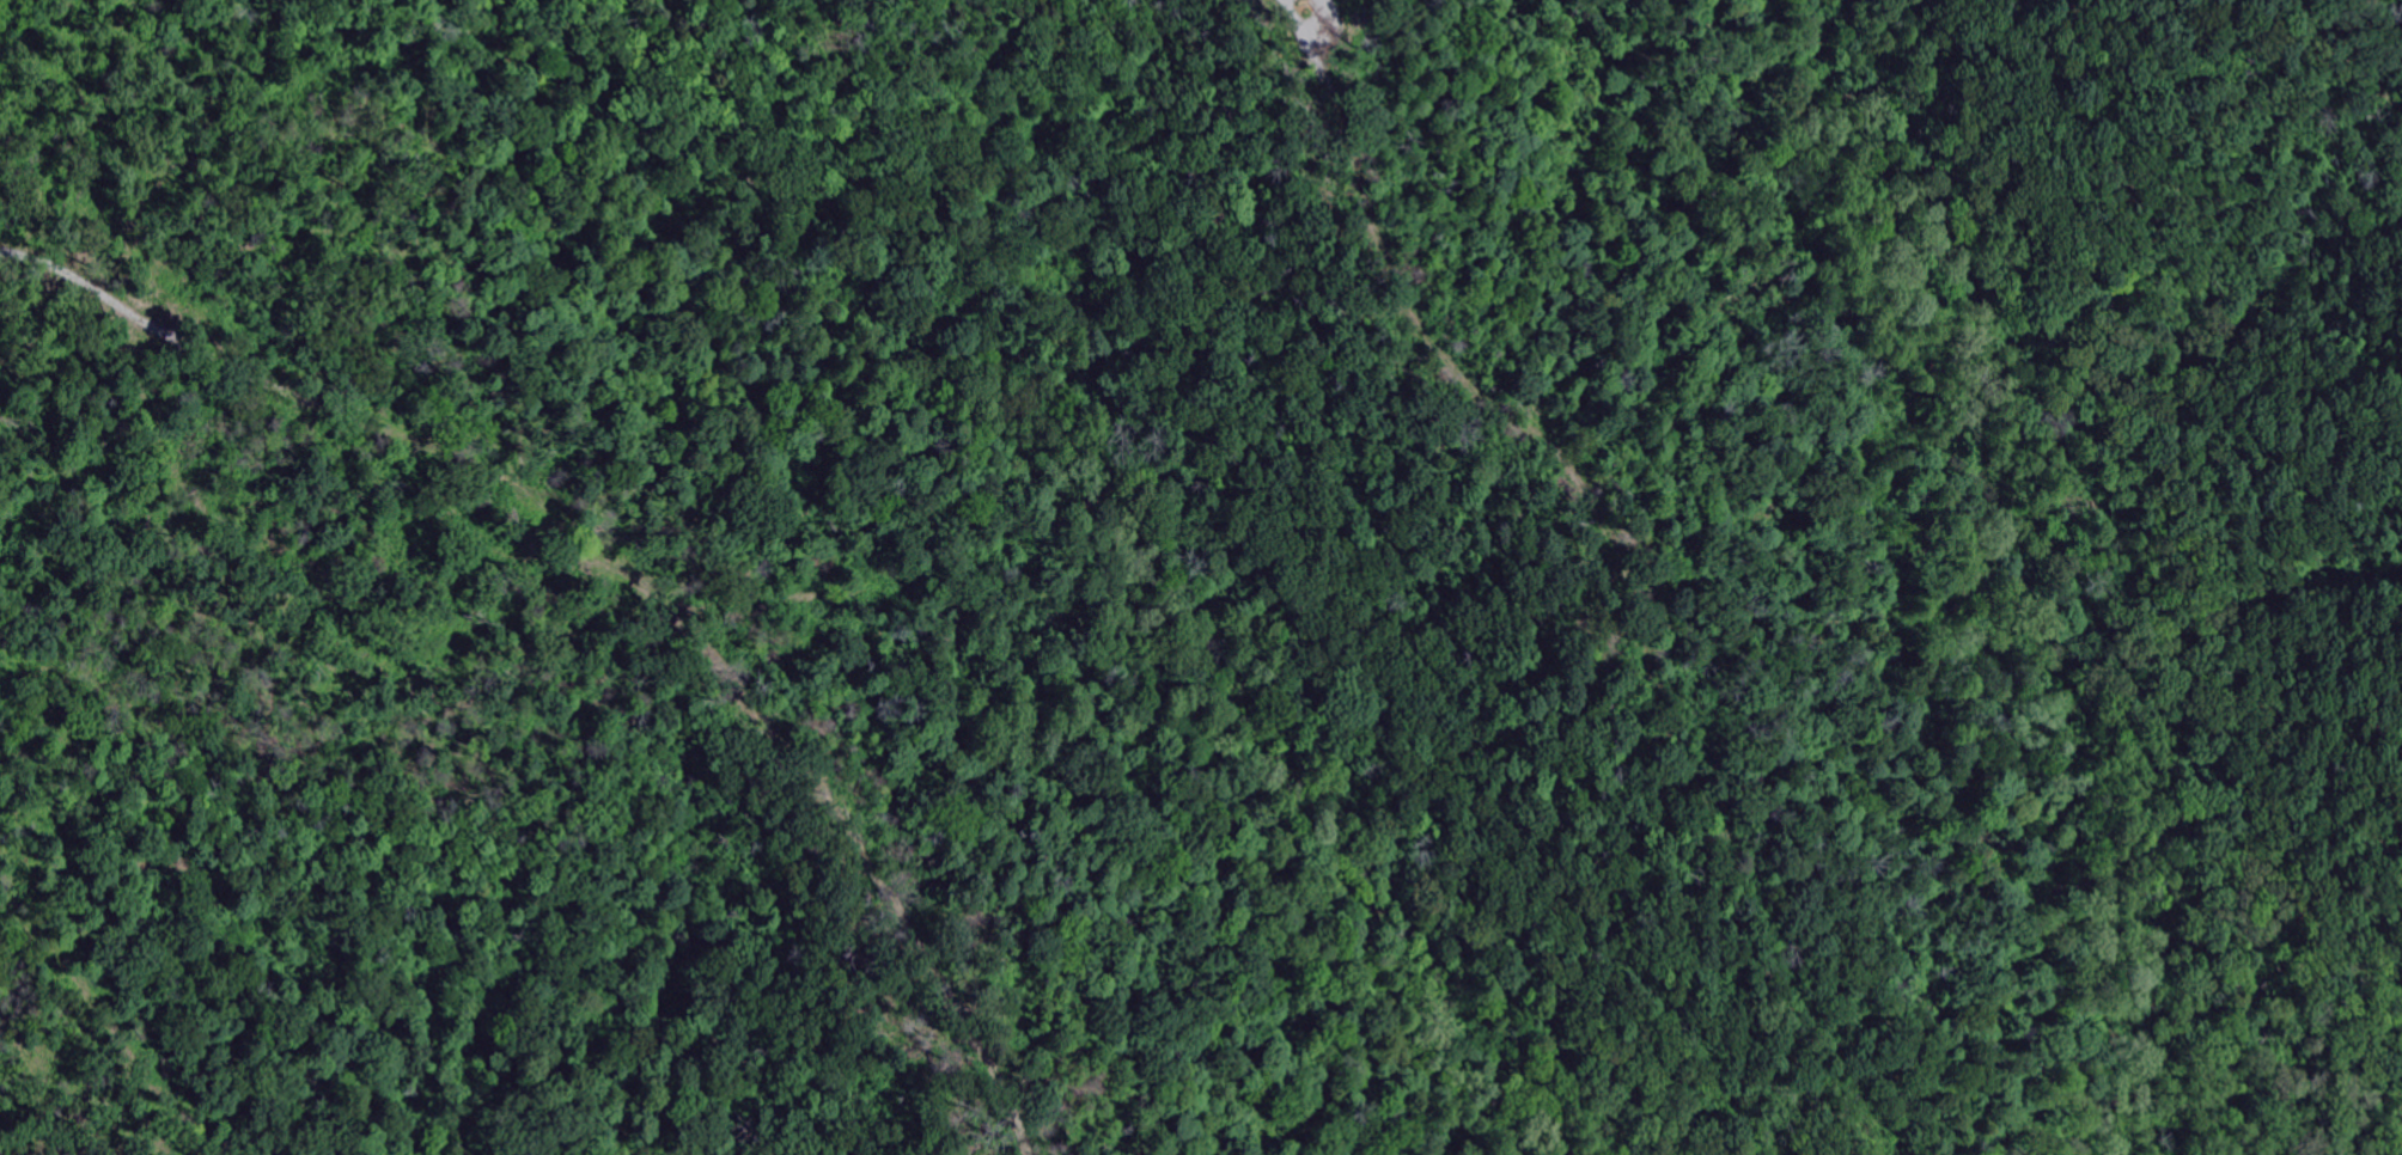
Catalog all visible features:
road: (1262, 32)

